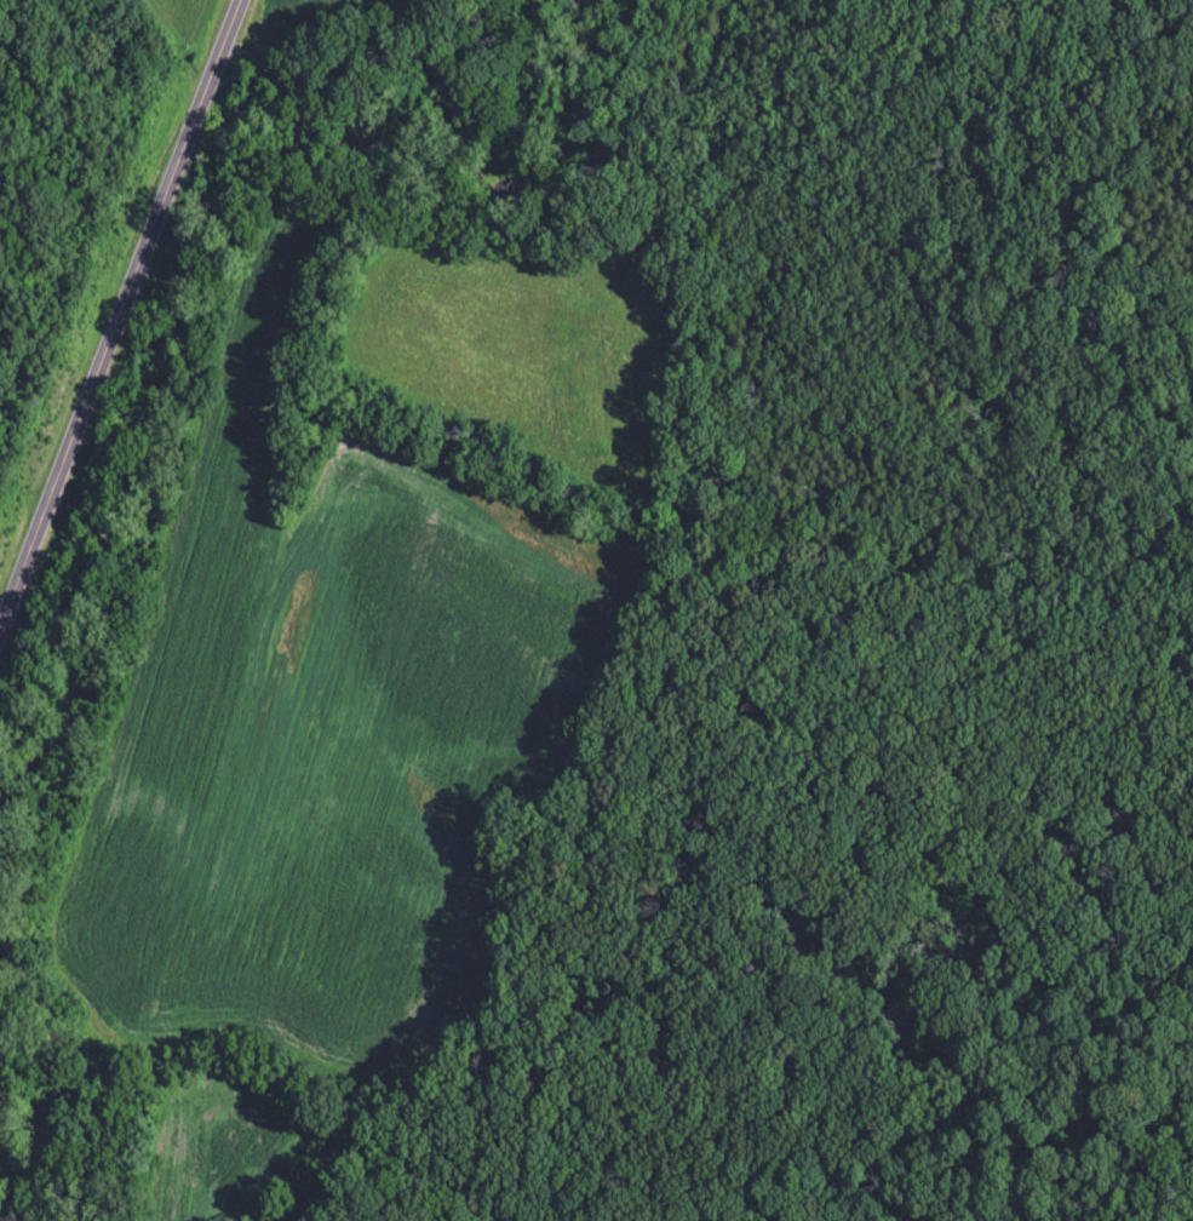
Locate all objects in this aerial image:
road: (122, 316)

